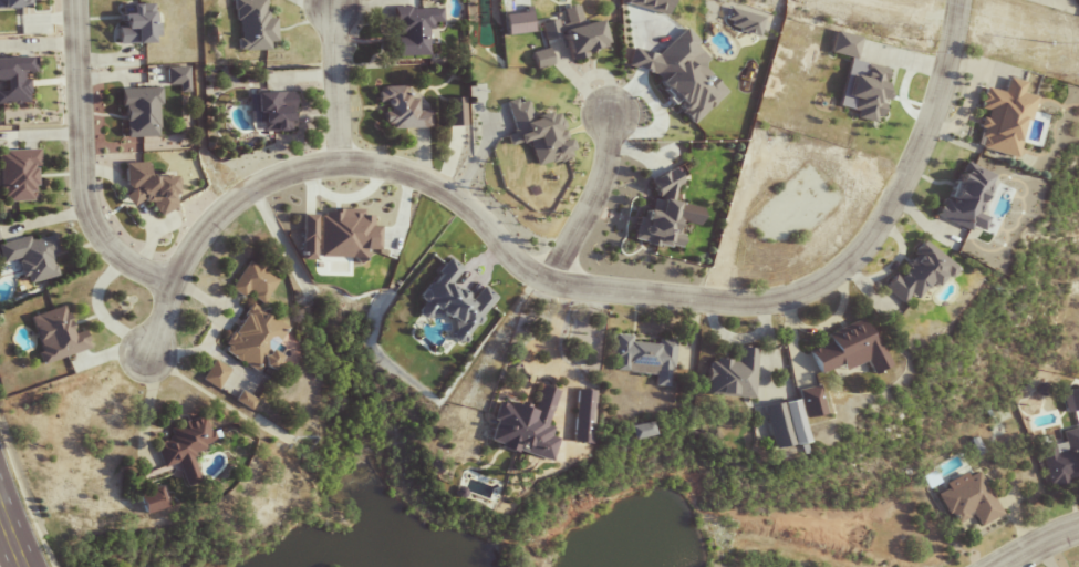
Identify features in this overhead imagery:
building: (424, 0)
building: (7, 3)
building: (646, 4)
building: (741, 20)
building: (516, 22)
building: (131, 23)
building: (247, 25)
building: (408, 30)
building: (577, 39)
building: (839, 45)
building: (536, 59)
building: (678, 74)
building: (175, 76)
building: (9, 81)
road: (333, 82)
building: (861, 92)
building: (396, 110)
building: (267, 112)
building: (449, 112)
building: (134, 113)
building: (996, 117)
building: (530, 133)
road: (80, 161)
road: (314, 165)
building: (14, 176)
building: (141, 187)
building: (959, 197)
road: (588, 200)
building: (660, 214)
building: (343, 234)
building: (305, 236)
building: (28, 257)
road: (834, 269)
building: (912, 275)
building: (249, 282)
building: (450, 301)
building: (49, 334)
building: (248, 339)
building: (843, 350)
building: (640, 359)
building: (209, 374)
building: (727, 375)
building: (241, 400)
building: (1069, 400)
building: (805, 402)
building: (577, 417)
building: (776, 425)
building: (518, 427)
building: (639, 430)
building: (179, 446)
building: (1059, 458)
building: (149, 499)
building: (963, 501)
road: (9, 539)
road: (1035, 544)

